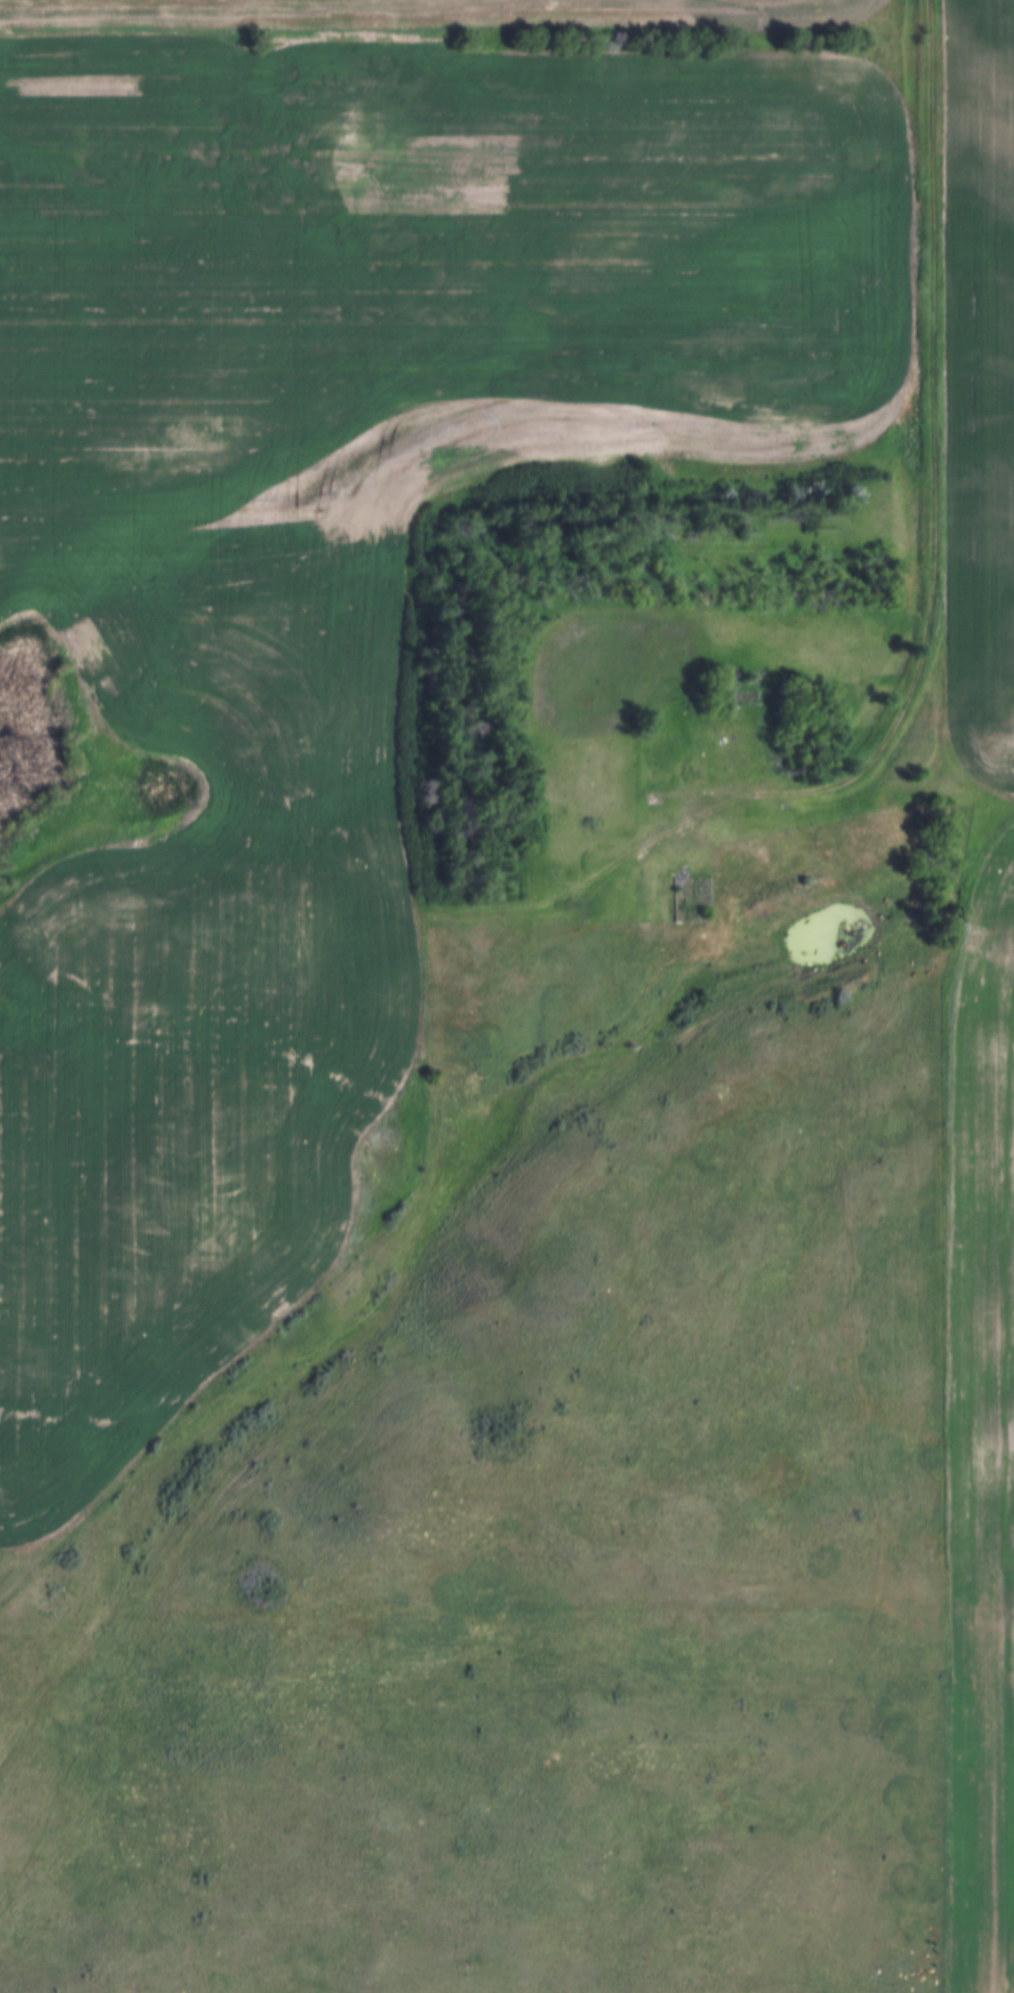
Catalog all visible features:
building: (751, 704)

